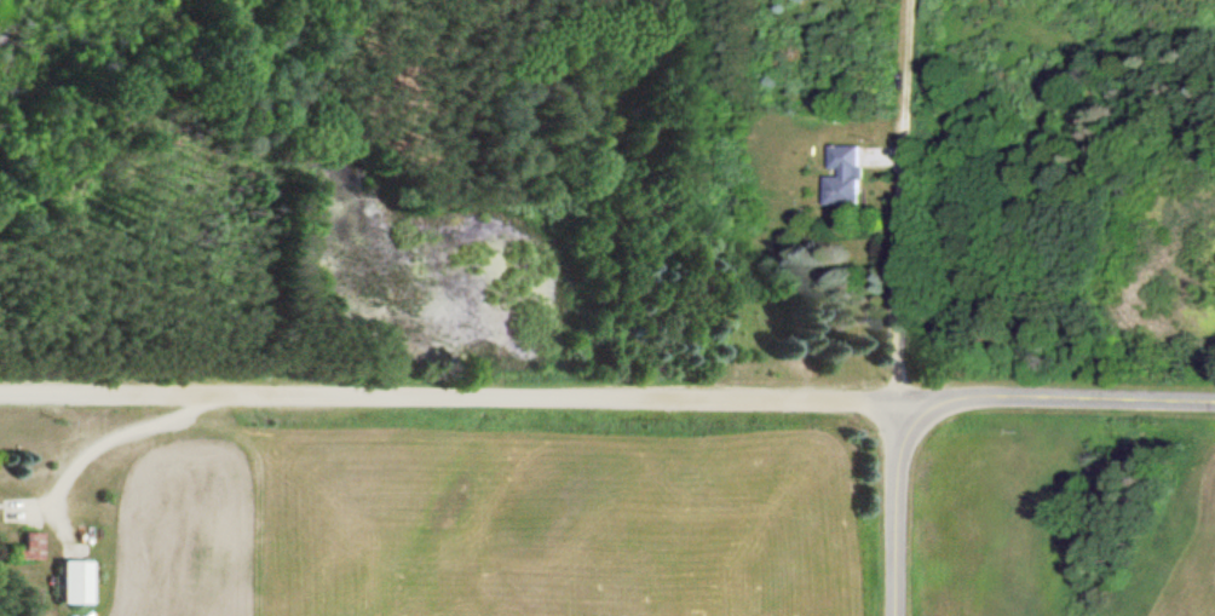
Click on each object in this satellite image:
building: (843, 175)
road: (892, 198)
road: (444, 391)
road: (1050, 396)
road: (888, 507)
building: (68, 583)

